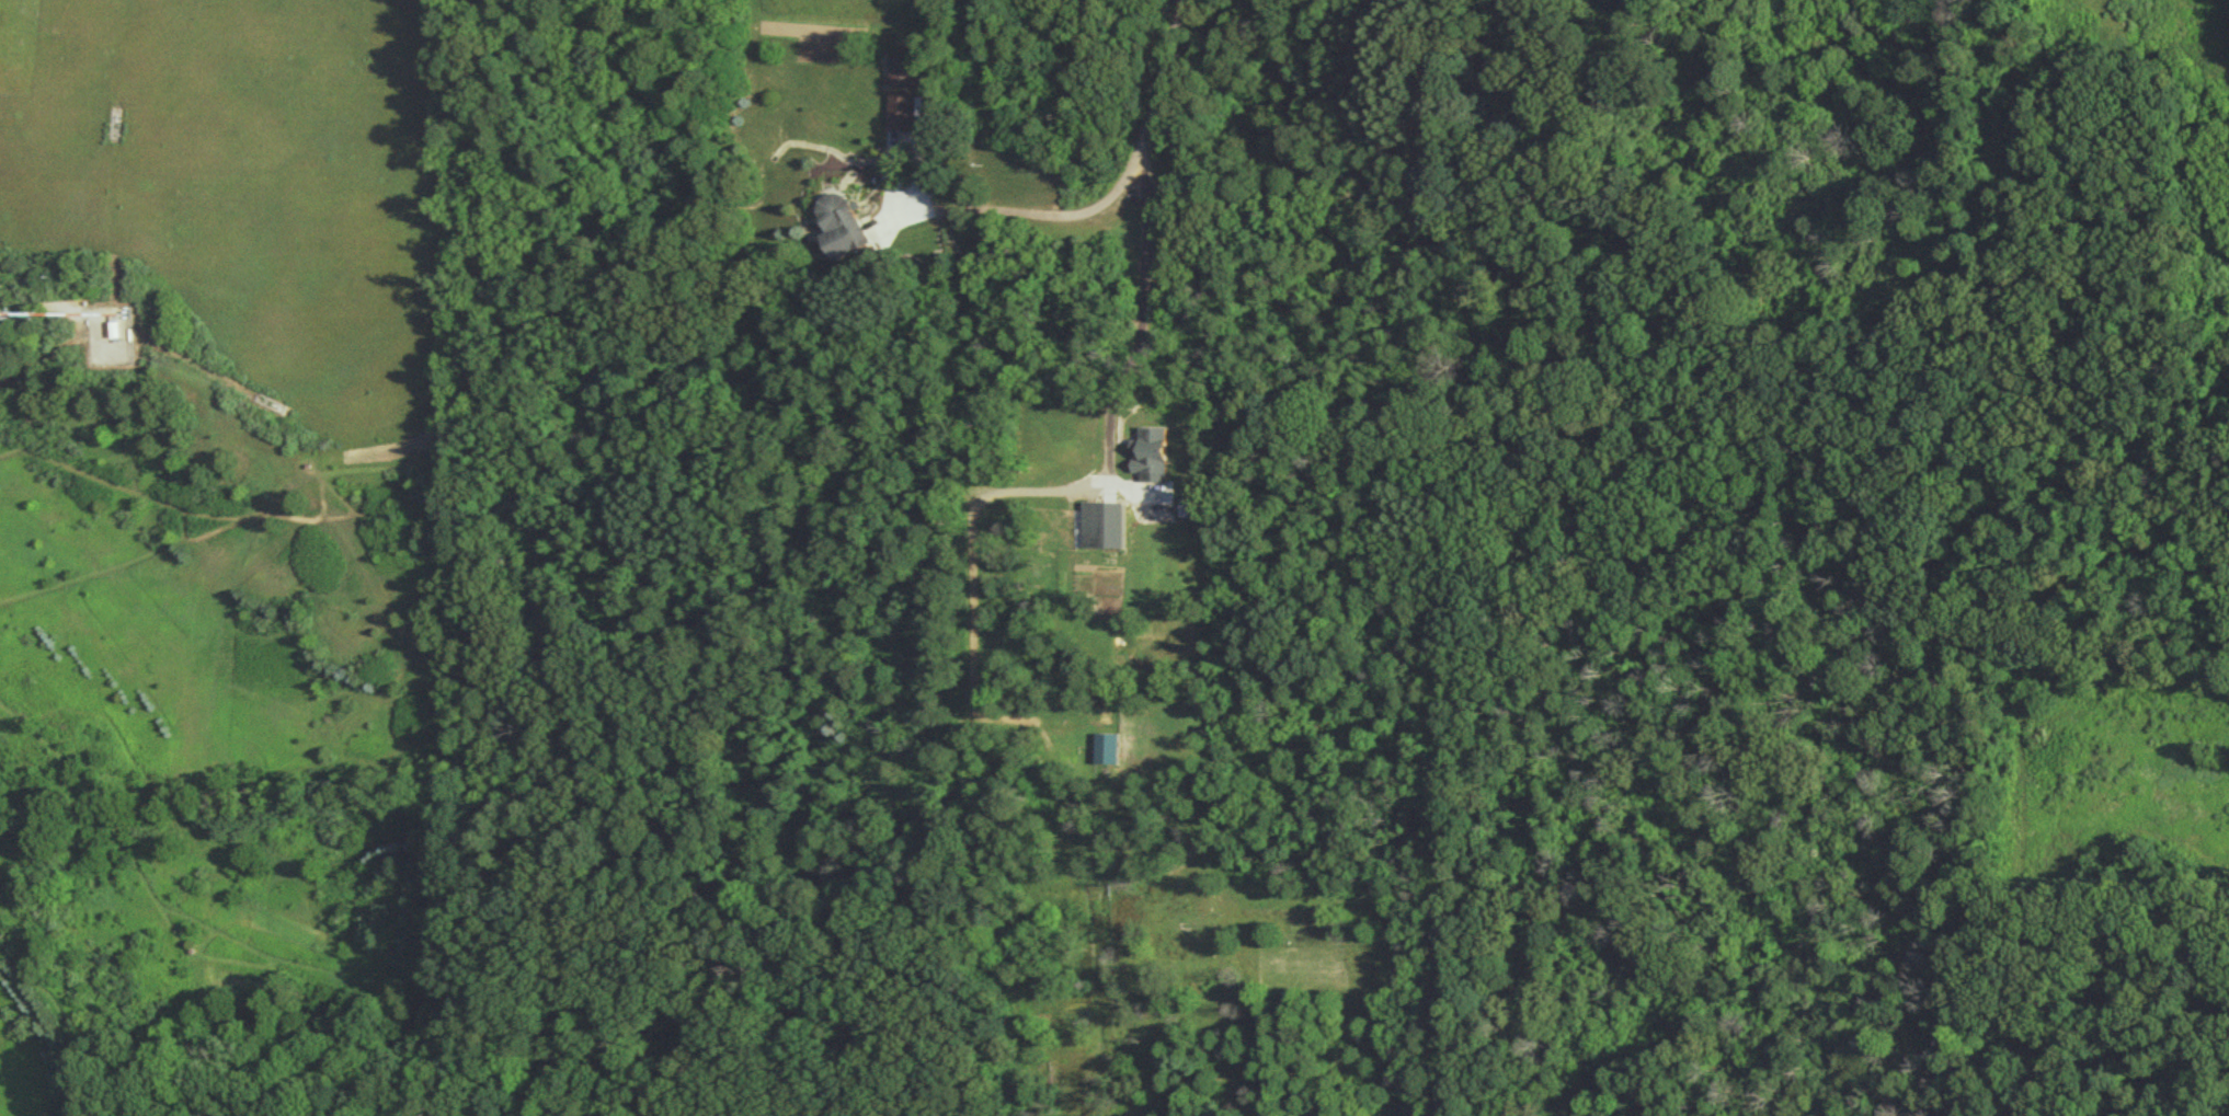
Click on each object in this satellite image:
building: (902, 102)
road: (1038, 210)
road: (1143, 228)
building: (845, 230)
road: (41, 301)
building: (114, 335)
building: (1157, 456)

